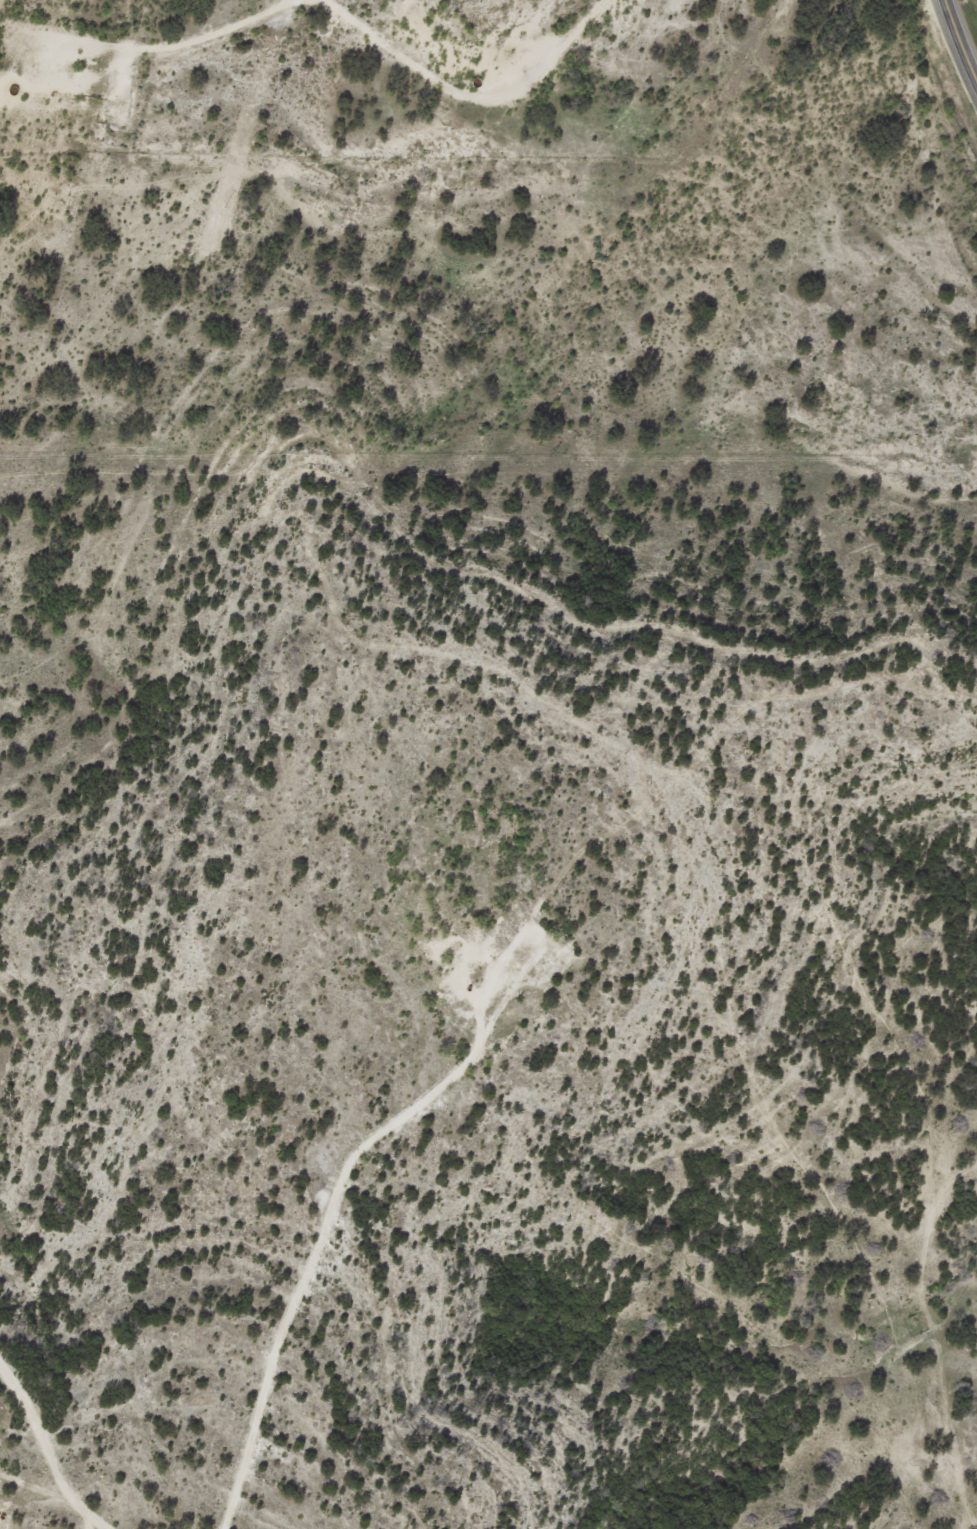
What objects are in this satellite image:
road: (960, 38)
road: (6, 1523)

